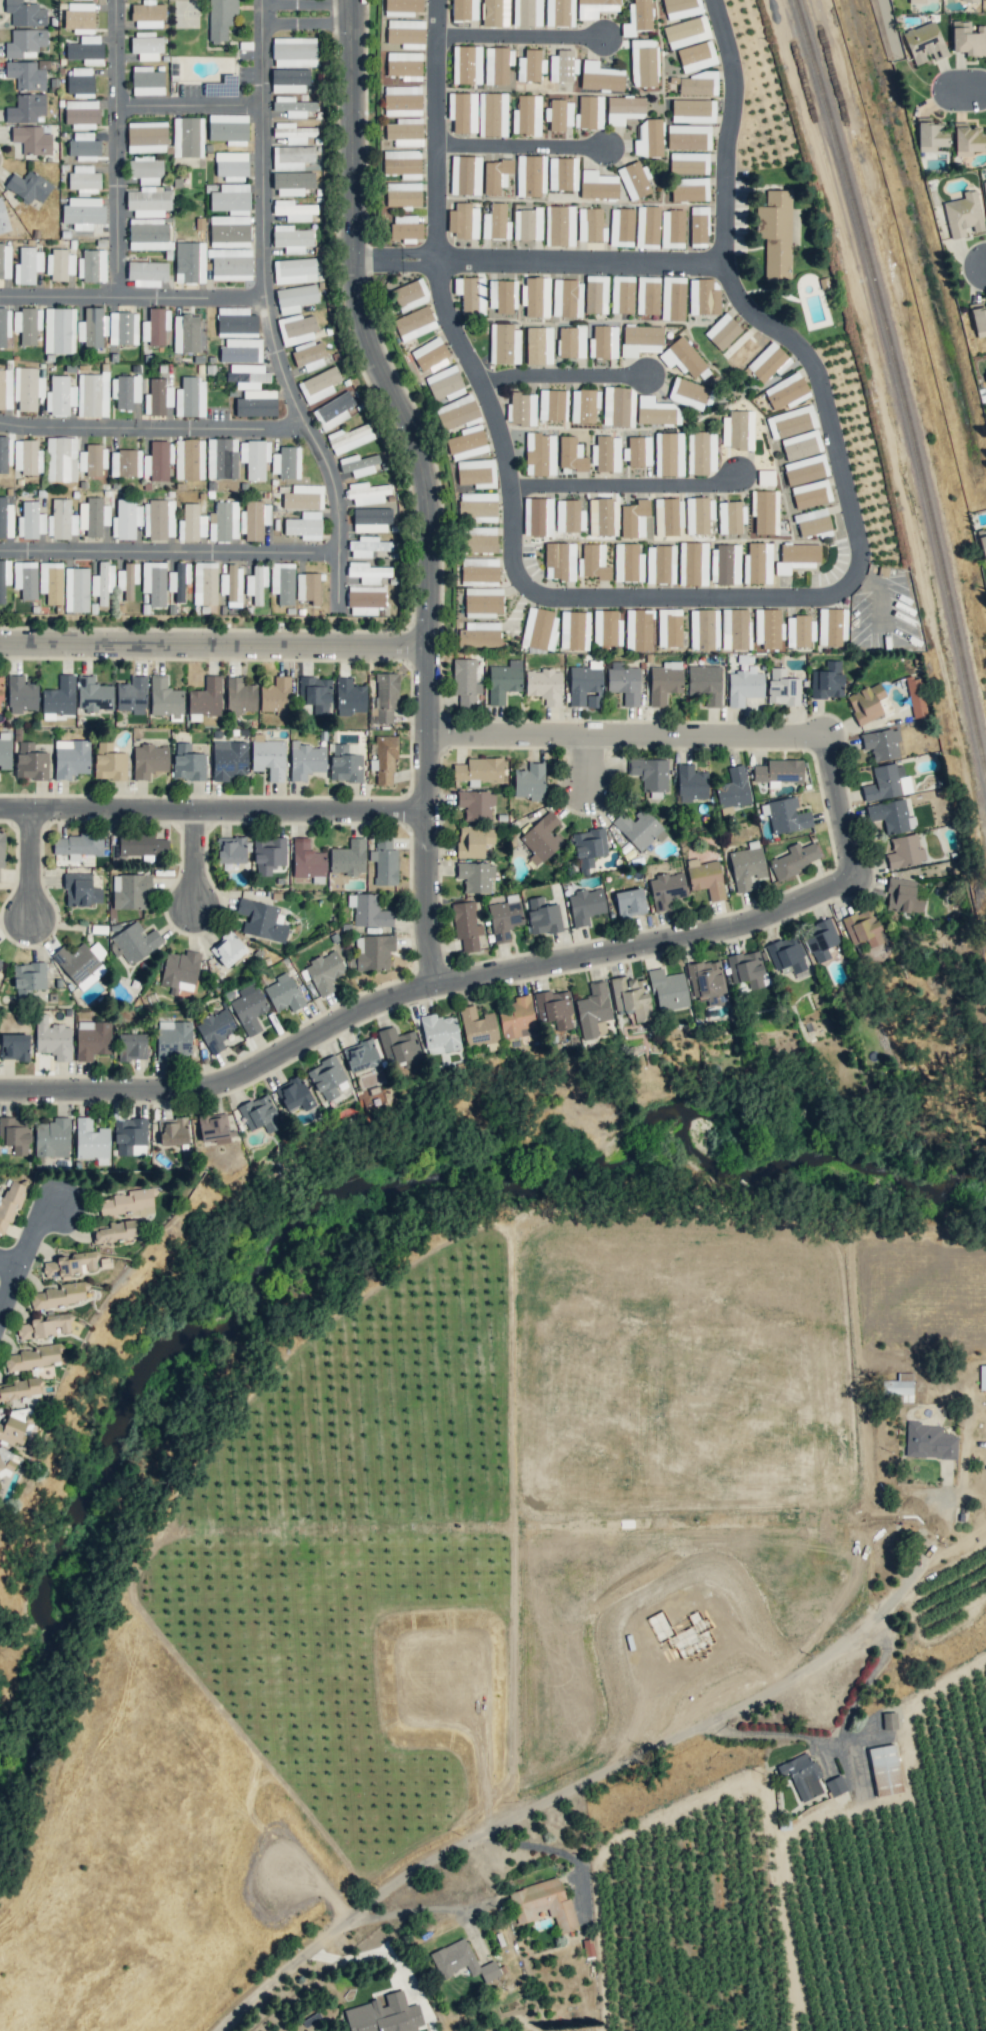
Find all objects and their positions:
building: (969, 0)
building: (984, 0)
building: (917, 1)
building: (595, 8)
building: (681, 8)
building: (464, 9)
building: (559, 12)
building: (25, 13)
road: (313, 13)
building: (495, 13)
building: (528, 13)
building: (148, 14)
building: (79, 15)
building: (637, 17)
building: (220, 18)
building: (686, 32)
building: (405, 33)
building: (968, 39)
building: (24, 41)
building: (924, 42)
building: (146, 45)
road: (519, 45)
building: (85, 49)
building: (294, 51)
building: (696, 56)
building: (643, 62)
building: (466, 64)
building: (497, 64)
building: (404, 65)
building: (530, 65)
building: (562, 66)
building: (26, 75)
building: (600, 76)
building: (146, 80)
building: (289, 80)
building: (80, 81)
building: (695, 83)
road: (961, 90)
building: (402, 100)
building: (293, 106)
building: (26, 108)
building: (624, 109)
building: (692, 110)
building: (462, 111)
building: (589, 111)
building: (81, 113)
building: (492, 114)
building: (559, 114)
building: (527, 115)
road: (192, 116)
building: (228, 128)
building: (293, 132)
building: (405, 132)
building: (931, 132)
building: (186, 136)
building: (146, 137)
building: (688, 137)
building: (649, 138)
building: (967, 138)
building: (32, 139)
building: (84, 145)
road: (118, 153)
building: (292, 157)
road: (517, 158)
building: (688, 162)
building: (402, 163)
building: (230, 165)
building: (145, 170)
building: (562, 173)
building: (465, 175)
building: (496, 175)
building: (530, 176)
building: (84, 179)
building: (634, 179)
building: (292, 182)
building: (598, 185)
building: (28, 186)
building: (690, 189)
building: (985, 189)
building: (403, 194)
building: (231, 198)
building: (148, 201)
building: (293, 210)
building: (83, 212)
building: (963, 214)
building: (3, 218)
building: (463, 220)
building: (495, 222)
building: (527, 224)
building: (590, 225)
building: (647, 226)
building: (698, 226)
building: (621, 227)
building: (672, 228)
building: (229, 231)
building: (149, 234)
building: (776, 234)
building: (291, 238)
building: (4, 261)
building: (189, 262)
building: (230, 263)
building: (60, 264)
building: (27, 265)
building: (91, 265)
road: (978, 268)
building: (294, 270)
building: (147, 273)
road: (544, 274)
building: (410, 294)
building: (470, 294)
building: (596, 294)
building: (622, 294)
building: (501, 295)
building: (647, 295)
building: (535, 296)
building: (703, 296)
building: (295, 298)
building: (566, 298)
building: (673, 298)
road: (133, 307)
road: (267, 311)
building: (978, 318)
building: (236, 321)
building: (414, 323)
building: (26, 324)
building: (4, 325)
building: (155, 326)
building: (92, 327)
building: (122, 327)
road: (376, 327)
building: (296, 329)
building: (59, 330)
building: (722, 331)
building: (186, 333)
building: (640, 339)
building: (571, 341)
building: (603, 342)
building: (504, 343)
building: (538, 345)
building: (241, 350)
building: (430, 354)
building: (308, 355)
building: (683, 358)
building: (768, 362)
building: (985, 371)
building: (247, 375)
building: (985, 376)
building: (318, 384)
building: (444, 384)
building: (27, 388)
railway: (900, 388)
building: (5, 389)
building: (125, 391)
building: (786, 392)
road: (559, 393)
building: (688, 393)
building: (92, 394)
building: (60, 396)
building: (157, 397)
building: (190, 397)
building: (256, 403)
building: (552, 405)
building: (584, 405)
building: (618, 406)
building: (521, 408)
building: (333, 411)
building: (656, 411)
building: (458, 412)
building: (791, 421)
building: (738, 429)
building: (350, 437)
road: (154, 442)
building: (467, 442)
building: (801, 445)
building: (701, 452)
building: (3, 453)
building: (606, 453)
building: (540, 454)
building: (571, 454)
building: (668, 454)
building: (26, 456)
building: (221, 458)
building: (254, 458)
building: (61, 459)
building: (189, 459)
building: (92, 460)
building: (158, 460)
building: (286, 462)
building: (125, 463)
building: (358, 464)
building: (805, 469)
building: (476, 473)
building: (765, 477)
building: (366, 492)
building: (810, 494)
building: (303, 497)
road: (620, 503)
building: (478, 506)
building: (765, 511)
building: (698, 514)
building: (569, 515)
building: (93, 516)
building: (537, 516)
building: (668, 516)
building: (730, 516)
building: (602, 517)
building: (6, 518)
building: (634, 518)
building: (61, 519)
building: (126, 519)
building: (158, 519)
building: (371, 519)
building: (254, 520)
building: (30, 521)
building: (223, 521)
building: (812, 522)
building: (191, 523)
building: (304, 525)
building: (479, 539)
building: (982, 541)
building: (367, 546)
road: (168, 552)
building: (797, 557)
building: (559, 561)
building: (594, 562)
building: (627, 562)
building: (692, 563)
building: (757, 563)
building: (660, 564)
building: (724, 564)
building: (479, 569)
building: (367, 572)
building: (4, 577)
building: (25, 579)
building: (127, 579)
building: (178, 580)
building: (51, 582)
building: (102, 582)
building: (154, 582)
building: (282, 582)
building: (204, 583)
building: (256, 583)
building: (231, 585)
building: (308, 587)
building: (76, 589)
building: (366, 600)
building: (483, 601)
road: (698, 617)
building: (831, 626)
building: (669, 627)
building: (539, 628)
building: (606, 628)
building: (767, 628)
building: (638, 629)
building: (703, 629)
building: (735, 629)
building: (574, 630)
building: (799, 631)
building: (479, 634)
road: (215, 648)
building: (827, 680)
building: (465, 681)
building: (503, 681)
building: (623, 682)
building: (664, 682)
building: (705, 683)
building: (544, 685)
building: (585, 685)
building: (744, 686)
building: (782, 687)
building: (0, 692)
building: (316, 693)
building: (21, 694)
building: (93, 694)
building: (132, 694)
building: (276, 695)
building: (914, 695)
building: (59, 696)
building: (240, 696)
building: (386, 696)
building: (164, 697)
building: (206, 697)
building: (350, 697)
building: (868, 703)
road: (630, 735)
building: (881, 743)
building: (5, 749)
building: (71, 758)
building: (269, 758)
building: (229, 759)
building: (149, 760)
building: (306, 760)
building: (384, 760)
road: (593, 760)
building: (30, 762)
building: (109, 762)
building: (188, 763)
building: (344, 764)
building: (478, 770)
building: (779, 771)
building: (649, 775)
building: (529, 781)
building: (887, 782)
building: (691, 783)
building: (733, 788)
road: (843, 804)
building: (476, 805)
road: (215, 813)
road: (432, 816)
building: (891, 816)
building: (639, 828)
building: (541, 838)
building: (473, 840)
building: (77, 844)
building: (142, 845)
building: (588, 848)
building: (2, 849)
building: (231, 849)
building: (904, 851)
building: (268, 854)
building: (348, 857)
building: (795, 860)
road: (199, 861)
building: (384, 861)
building: (307, 862)
building: (746, 867)
road: (35, 868)
building: (475, 876)
building: (705, 877)
building: (666, 889)
building: (81, 890)
building: (130, 891)
building: (902, 896)
building: (630, 902)
building: (585, 905)
building: (368, 910)
building: (542, 916)
building: (504, 919)
building: (261, 920)
building: (466, 925)
building: (864, 927)
building: (820, 939)
building: (134, 940)
building: (227, 949)
building: (373, 952)
building: (786, 954)
building: (1, 964)
building: (78, 965)
building: (746, 968)
building: (180, 971)
building: (324, 971)
building: (706, 979)
road: (426, 988)
building: (668, 990)
building: (283, 993)
building: (632, 997)
building: (717, 1000)
building: (249, 1008)
building: (554, 1008)
building: (592, 1009)
building: (517, 1018)
building: (477, 1026)
building: (215, 1030)
building: (439, 1033)
building: (53, 1038)
building: (92, 1039)
building: (173, 1039)
building: (14, 1046)
building: (132, 1046)
building: (400, 1047)
building: (360, 1055)
building: (328, 1078)
building: (293, 1094)
building: (259, 1114)
building: (213, 1127)
building: (172, 1132)
building: (15, 1134)
building: (130, 1136)
building: (52, 1138)
building: (90, 1141)
building: (9, 1202)
building: (127, 1203)
building: (116, 1230)
road: (28, 1263)
building: (70, 1264)
road: (12, 1265)
building: (58, 1295)
building: (43, 1326)
building: (982, 1377)
building: (22, 1388)
building: (898, 1388)
building: (929, 1441)
building: (5, 1460)
building: (889, 1720)
road: (600, 1769)
building: (888, 1774)
building: (801, 1776)
building: (835, 1785)
road: (555, 1851)
building: (543, 1904)
road: (411, 1909)
building: (461, 1961)
building: (384, 2015)

